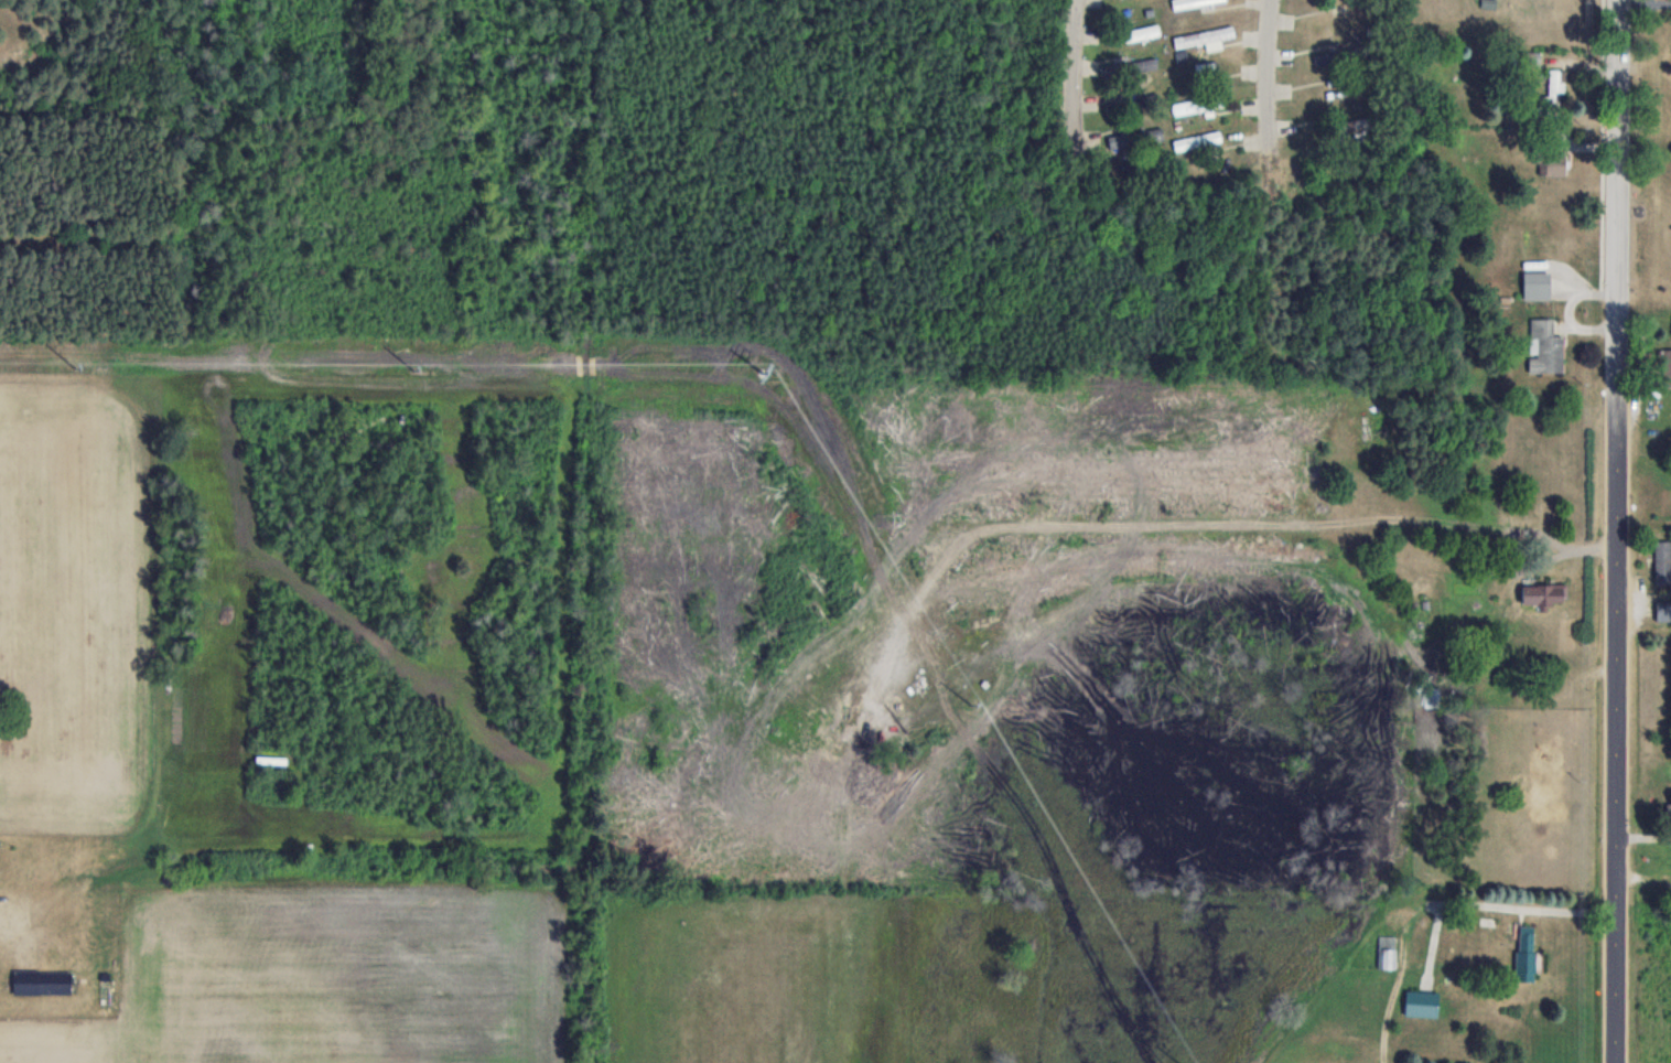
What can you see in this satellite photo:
building: (1195, 3)
road: (1645, 3)
building: (1135, 35)
building: (1199, 39)
building: (1529, 57)
road: (1074, 76)
road: (1266, 76)
building: (1553, 93)
building: (1196, 106)
building: (1135, 139)
building: (1197, 141)
building: (1554, 165)
building: (1534, 284)
building: (1544, 345)
building: (1664, 362)
power tower: (79, 368)
power tower: (413, 369)
power tower: (765, 371)
road: (1616, 530)
building: (1662, 561)
building: (1540, 593)
power tower: (975, 706)
building: (1670, 806)
building: (1387, 952)
building: (1524, 953)
building: (41, 981)
building: (1421, 1002)

